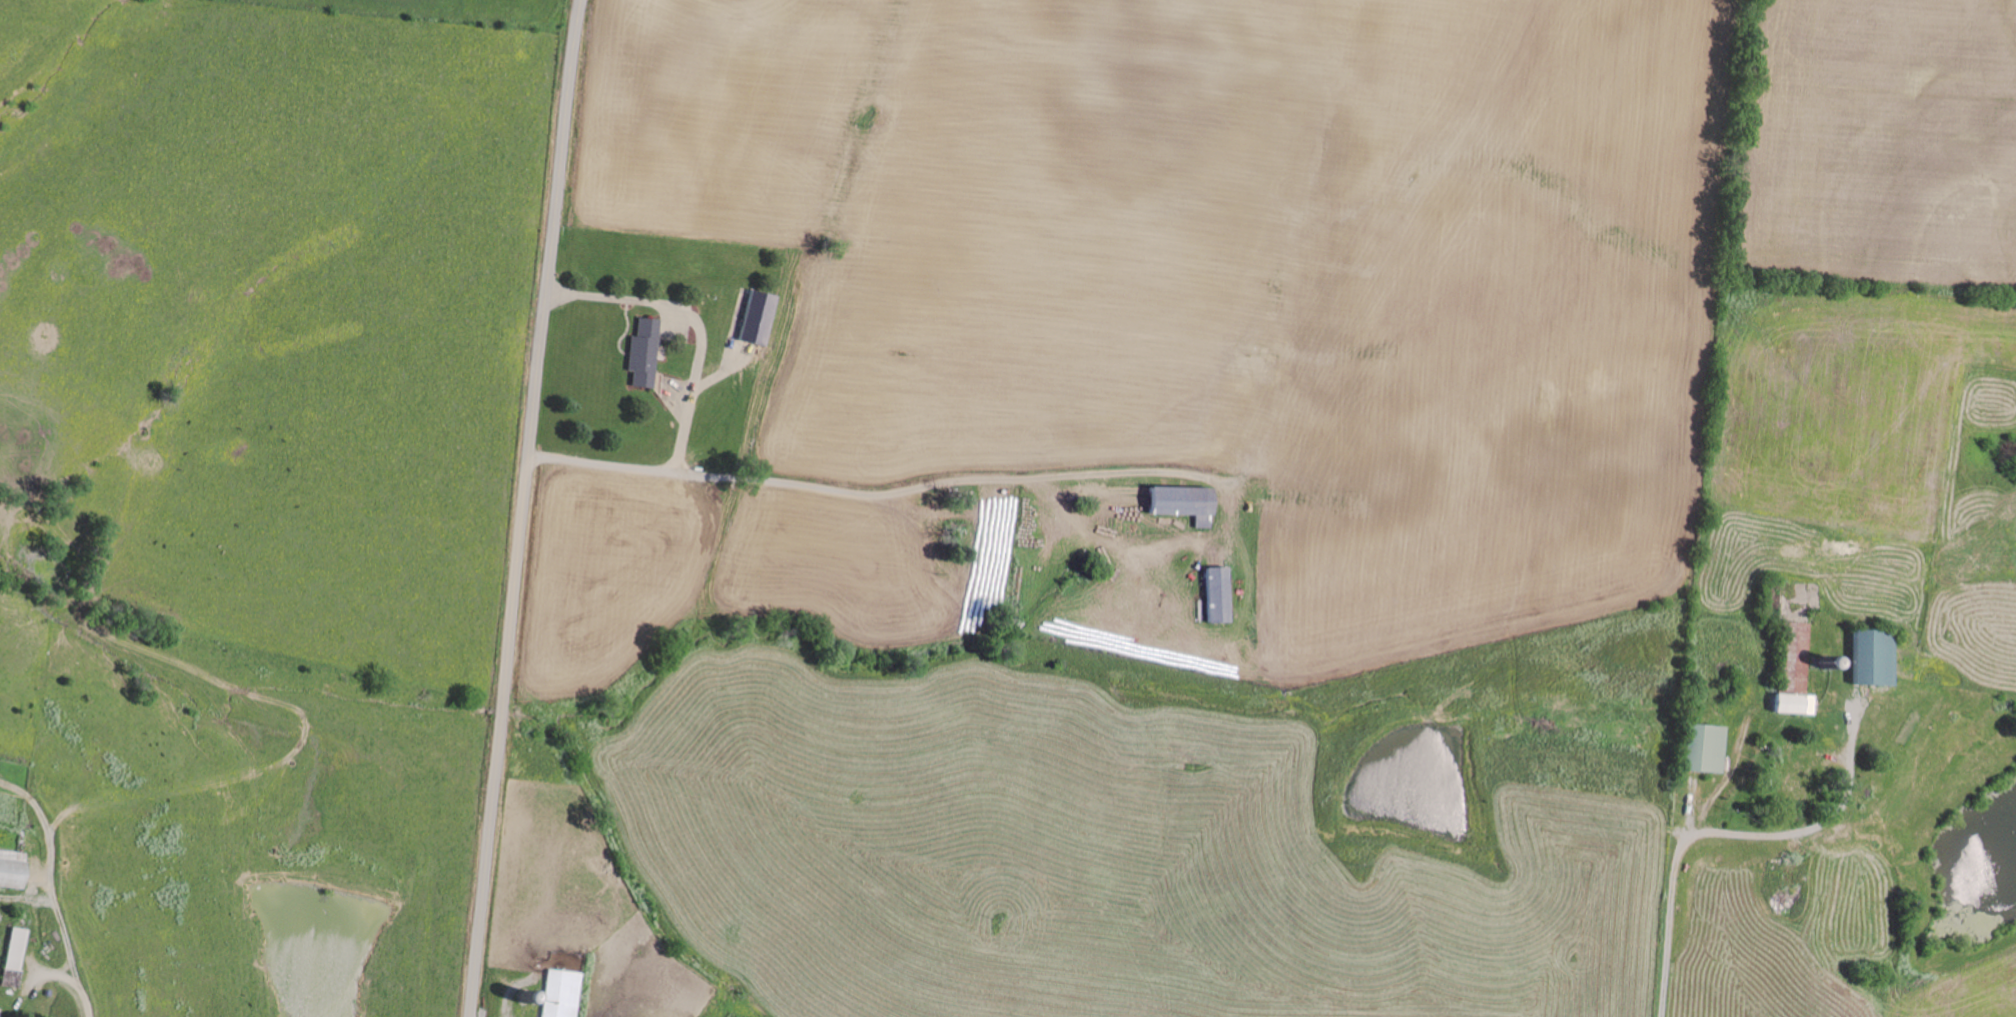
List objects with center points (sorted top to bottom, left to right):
building: (757, 317)
building: (643, 352)
building: (1183, 502)
road: (525, 508)
building: (1218, 594)
building: (1779, 595)
building: (1796, 656)
building: (1871, 658)
building: (1793, 704)
building: (1705, 748)
building: (10, 869)
road: (1627, 891)
road: (50, 932)
building: (13, 948)
building: (560, 993)

